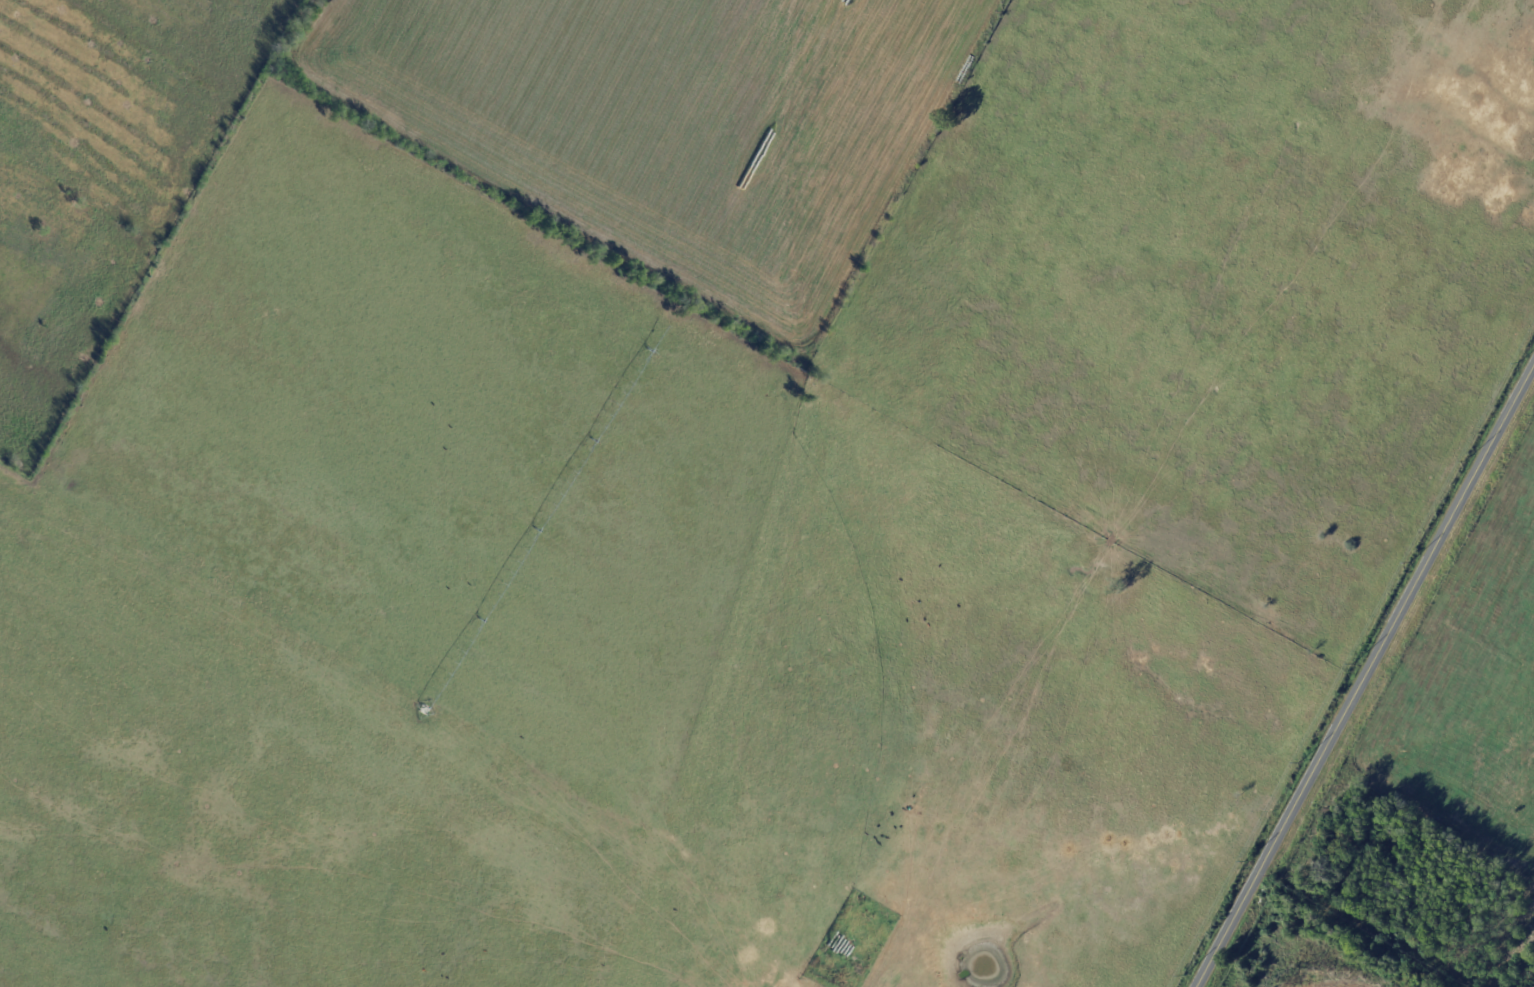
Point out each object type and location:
road: (1363, 673)
quarry: (1306, 947)

